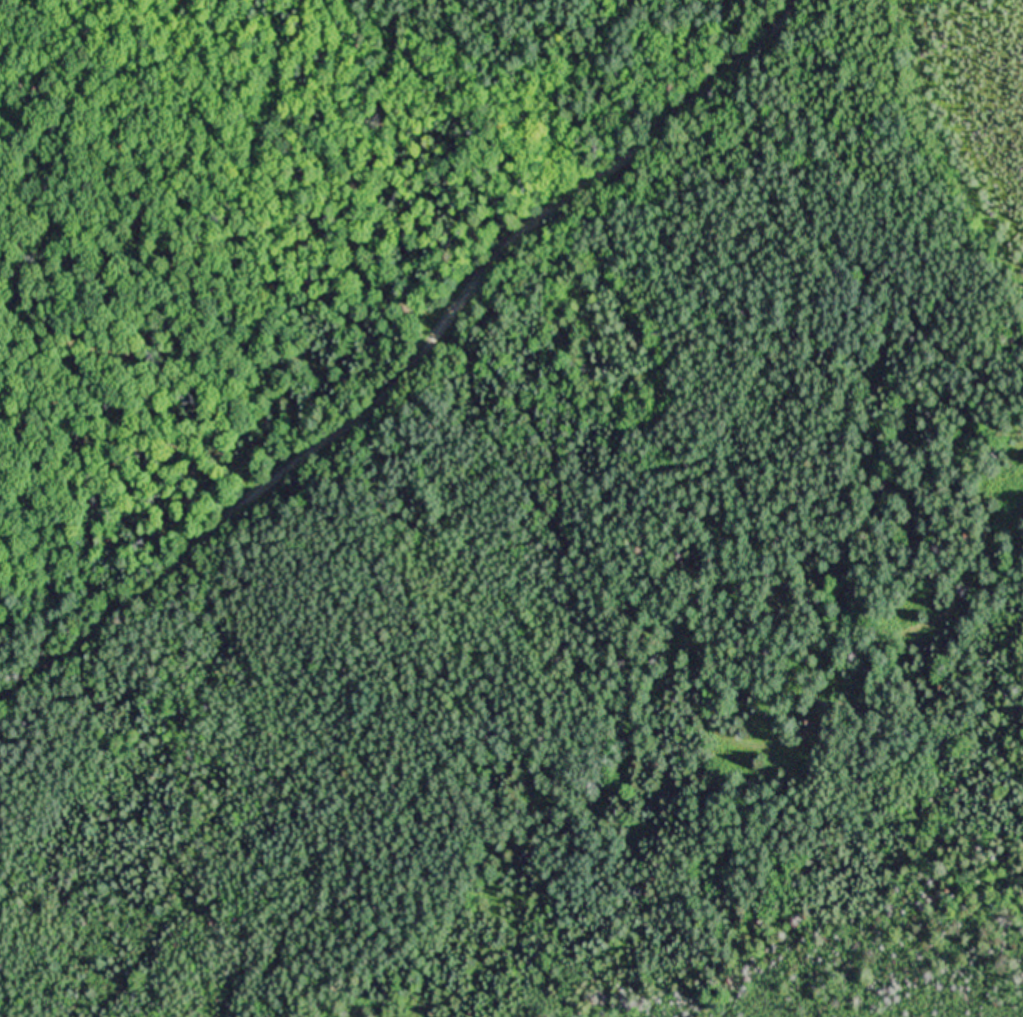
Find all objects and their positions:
road: (410, 368)

